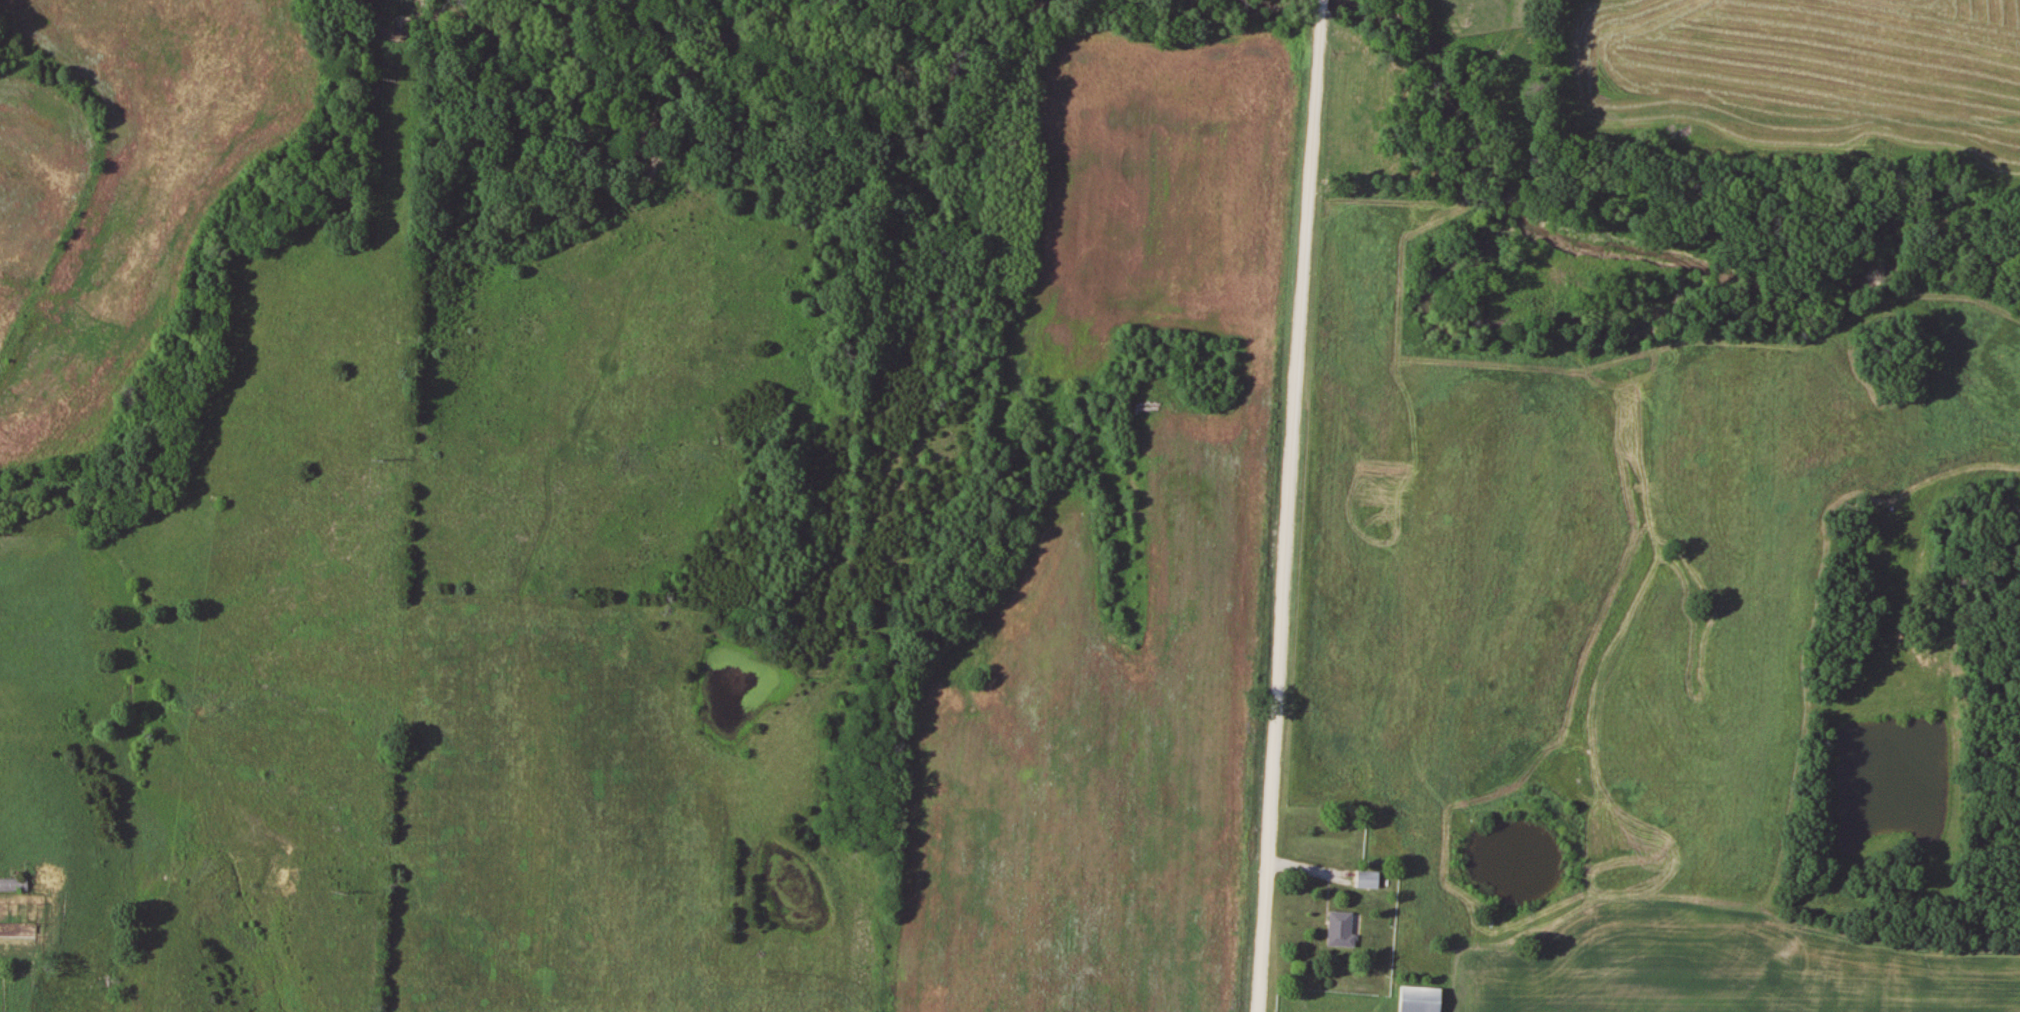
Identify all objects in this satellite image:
road: (1290, 505)
building: (1368, 880)
building: (14, 885)
building: (1342, 929)
building: (1422, 999)

